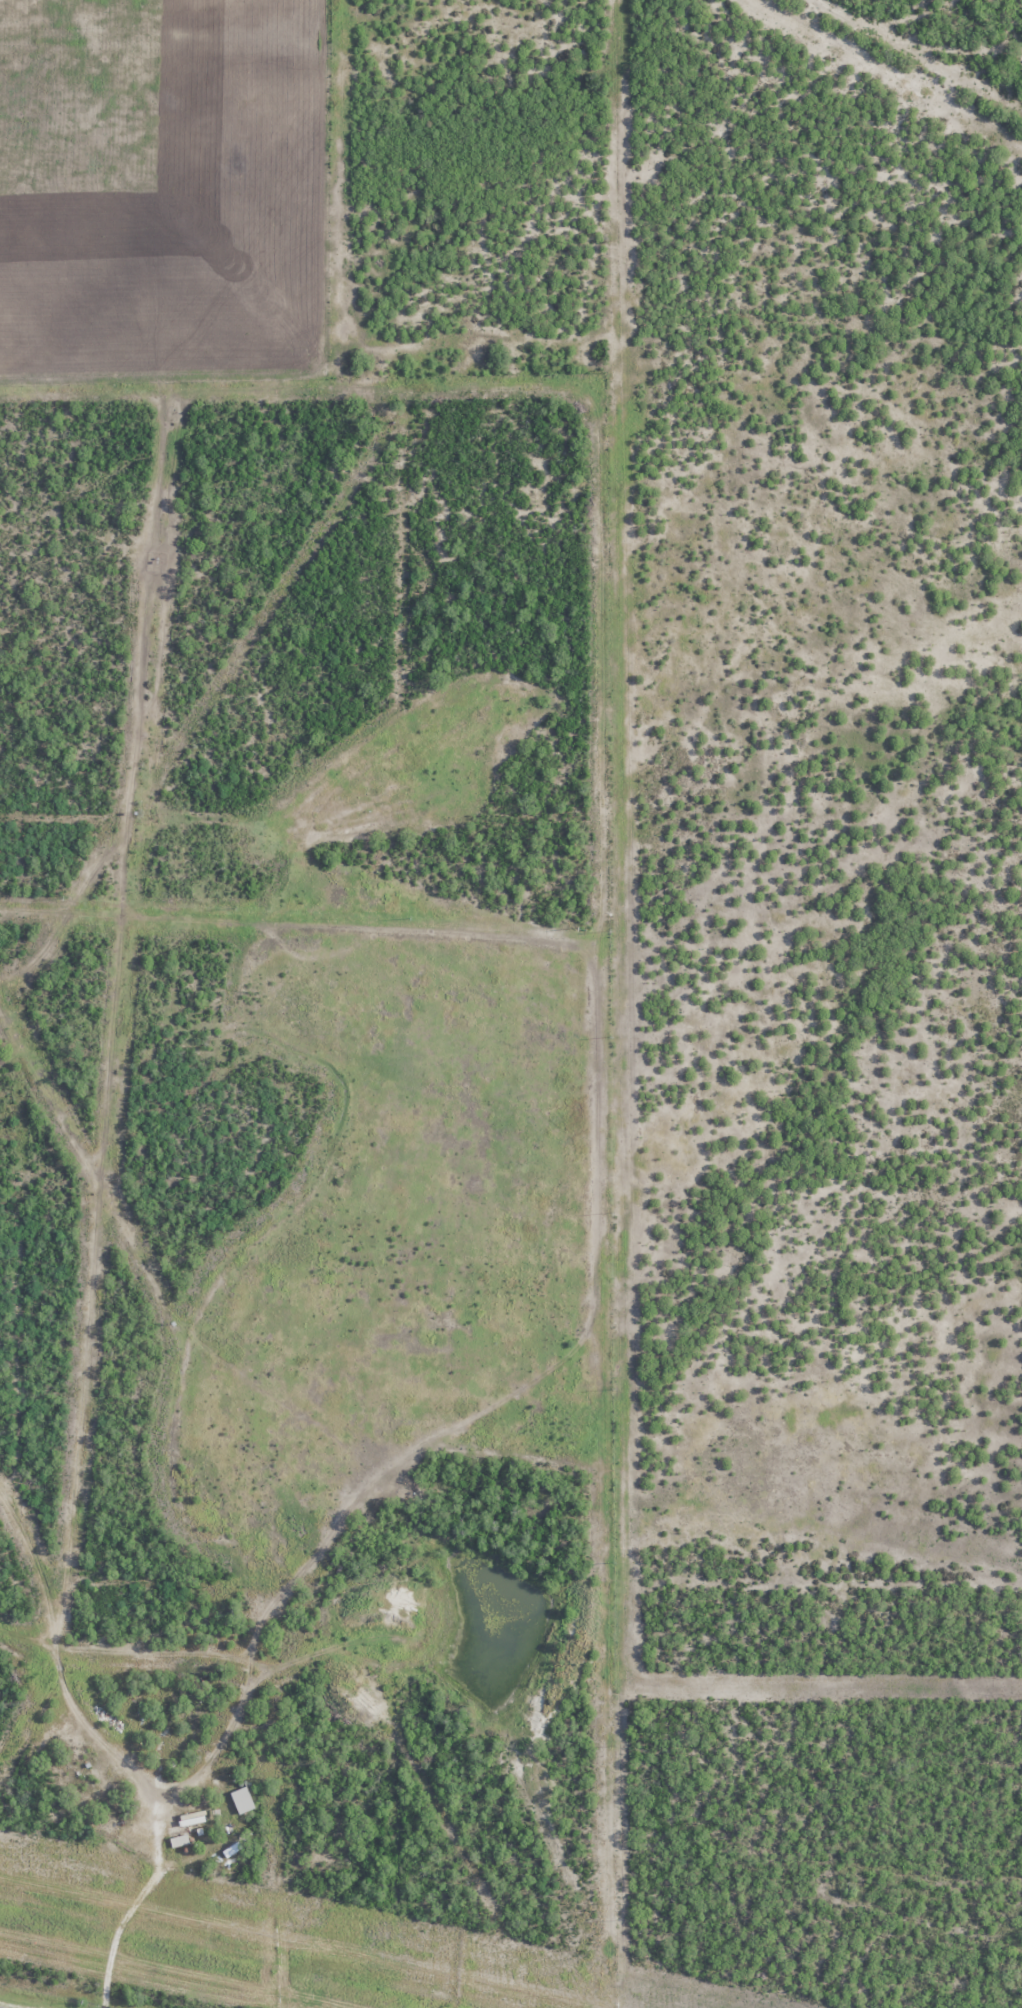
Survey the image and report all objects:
road: (913, 56)
road: (0, 1534)
building: (242, 1800)
building: (192, 1818)
road: (102, 1836)
building: (179, 1840)

